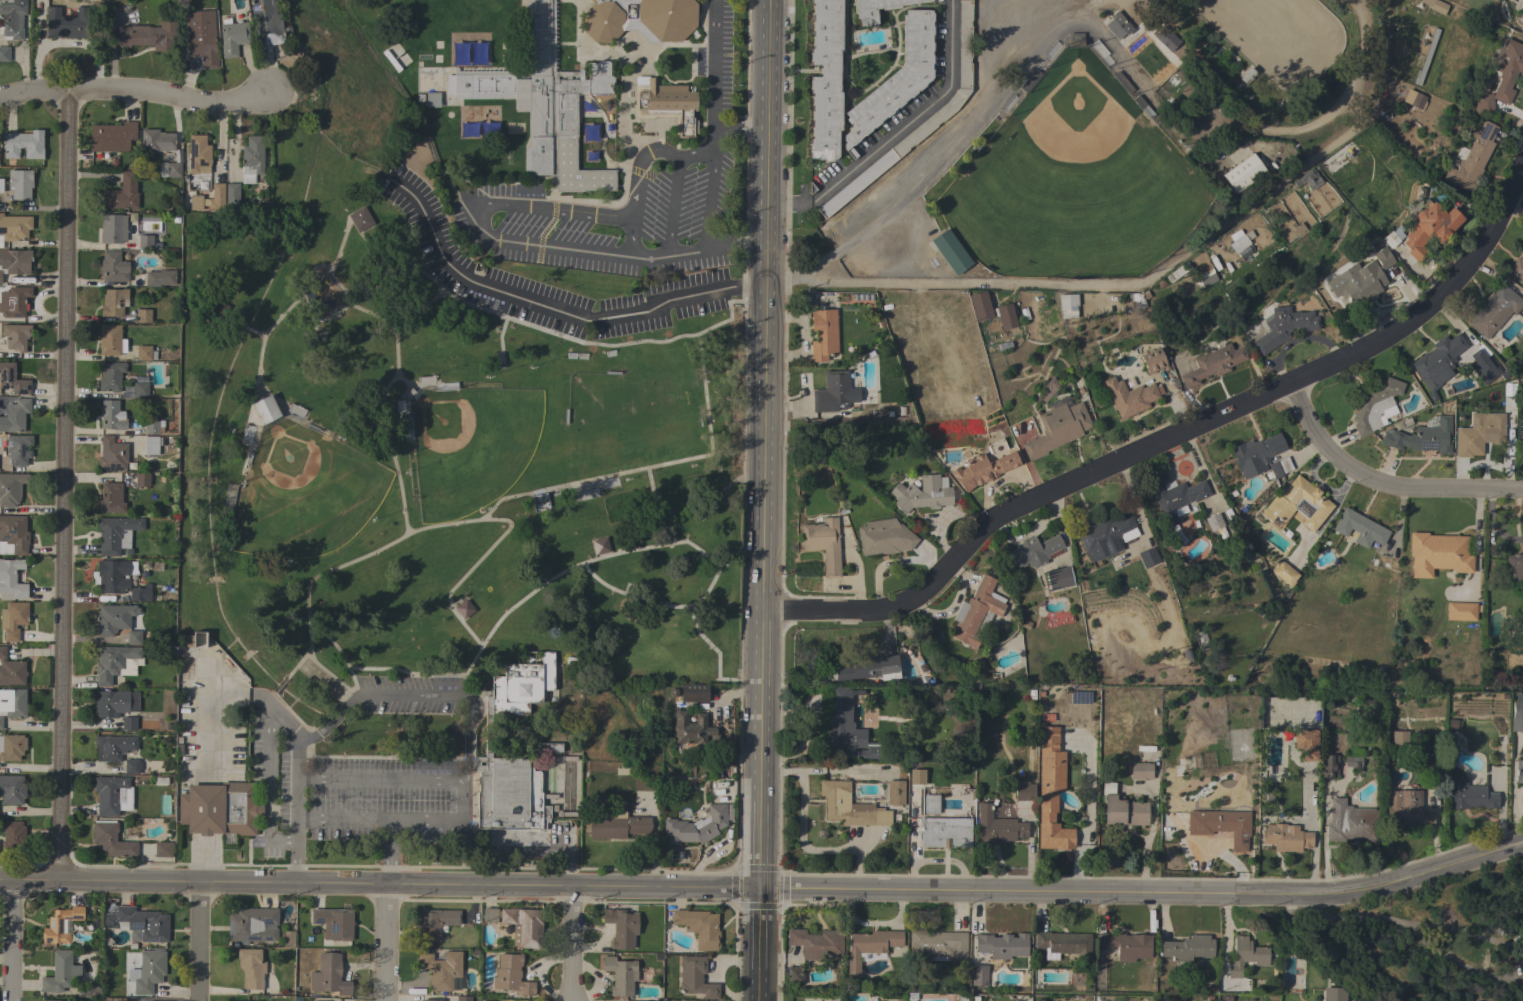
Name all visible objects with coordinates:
building: (1522, 0)
building: (1435, 5)
road: (1076, 13)
building: (866, 14)
building: (12, 19)
building: (639, 19)
building: (1522, 20)
building: (66, 23)
building: (265, 23)
building: (1118, 25)
building: (148, 36)
building: (201, 37)
building: (233, 38)
park: (1278, 38)
building: (1166, 39)
building: (1075, 40)
building: (4, 53)
building: (1425, 59)
road: (714, 63)
building: (1247, 74)
building: (1501, 77)
building: (825, 79)
building: (895, 79)
building: (1030, 80)
building: (1123, 82)
road: (134, 90)
building: (1192, 92)
building: (432, 99)
building: (1416, 100)
building: (545, 103)
building: (665, 104)
building: (949, 107)
road: (1236, 126)
road: (742, 127)
road: (897, 131)
building: (111, 136)
building: (157, 142)
building: (23, 144)
park: (1107, 144)
building: (197, 153)
building: (251, 158)
building: (1470, 159)
road: (939, 163)
building: (1340, 164)
building: (169, 169)
building: (1243, 173)
park: (1071, 176)
building: (1308, 179)
building: (20, 183)
building: (1, 185)
road: (709, 185)
building: (121, 194)
road: (1517, 195)
building: (216, 198)
building: (232, 198)
road: (481, 198)
building: (195, 201)
parking lot: (625, 202)
building: (359, 219)
building: (14, 227)
building: (113, 228)
building: (1429, 228)
building: (1390, 239)
building: (145, 241)
building: (1241, 242)
road: (737, 246)
building: (949, 252)
building: (15, 261)
building: (113, 267)
building: (1517, 268)
building: (1177, 272)
building: (1365, 276)
building: (0, 277)
building: (160, 278)
parking lot: (558, 278)
building: (1205, 278)
road: (429, 282)
road: (1099, 283)
building: (14, 301)
building: (113, 302)
road: (309, 304)
building: (1067, 305)
road: (351, 306)
road: (552, 310)
building: (991, 310)
building: (1494, 310)
building: (142, 316)
road: (727, 320)
building: (1283, 327)
road: (253, 332)
road: (262, 334)
building: (823, 334)
building: (16, 336)
building: (110, 340)
road: (660, 342)
road: (395, 347)
building: (145, 353)
building: (1152, 361)
building: (1438, 361)
building: (1212, 364)
building: (1485, 372)
building: (111, 376)
building: (12, 379)
building: (445, 386)
building: (135, 390)
building: (832, 392)
building: (1130, 396)
road: (396, 399)
building: (1375, 405)
building: (265, 409)
building: (15, 415)
building: (111, 415)
road: (378, 421)
building: (153, 427)
building: (408, 428)
building: (1057, 429)
building: (1484, 430)
building: (1520, 432)
building: (1422, 437)
road: (1170, 438)
park: (470, 444)
building: (151, 445)
building: (18, 449)
building: (111, 454)
building: (1255, 454)
park: (439, 459)
building: (1278, 468)
building: (981, 469)
building: (141, 479)
road: (1382, 482)
road: (63, 484)
building: (11, 488)
park: (304, 493)
building: (922, 493)
building: (583, 495)
building: (111, 498)
building: (1177, 499)
road: (766, 500)
building: (540, 502)
building: (1283, 502)
road: (487, 514)
building: (1215, 525)
road: (1491, 525)
building: (1360, 528)
building: (1103, 532)
building: (116, 534)
building: (13, 535)
building: (884, 537)
building: (822, 543)
building: (600, 545)
road: (655, 547)
road: (1475, 549)
building: (1033, 551)
building: (1438, 554)
building: (1147, 557)
building: (1515, 558)
building: (1284, 573)
road: (466, 574)
building: (111, 576)
building: (1058, 578)
building: (11, 580)
building: (140, 593)
building: (464, 608)
building: (1460, 611)
building: (975, 613)
building: (113, 618)
building: (12, 619)
road: (318, 631)
building: (134, 637)
road: (708, 645)
building: (110, 663)
building: (868, 668)
building: (11, 670)
road: (326, 670)
road: (291, 672)
building: (1381, 673)
building: (693, 693)
building: (1518, 697)
road: (374, 698)
building: (13, 703)
building: (115, 703)
road: (281, 715)
building: (1517, 716)
building: (1, 722)
building: (128, 723)
road: (311, 726)
building: (847, 729)
building: (692, 732)
building: (488, 736)
building: (1399, 737)
building: (1306, 743)
building: (11, 746)
building: (112, 747)
building: (548, 747)
building: (1353, 758)
building: (132, 766)
building: (1329, 766)
parking lot: (375, 769)
road: (269, 770)
road: (466, 771)
building: (1141, 771)
building: (1519, 771)
building: (916, 777)
road: (380, 781)
building: (12, 789)
building: (1024, 792)
building: (1051, 792)
building: (895, 793)
building: (112, 795)
building: (1470, 795)
building: (930, 804)
building: (849, 806)
road: (294, 807)
building: (219, 808)
building: (1122, 809)
building: (1405, 811)
road: (380, 819)
road: (1086, 821)
building: (1351, 823)
building: (1221, 825)
building: (617, 826)
building: (696, 826)
building: (996, 827)
road: (1313, 831)
building: (944, 832)
building: (13, 835)
building: (1286, 837)
building: (112, 840)
road: (282, 840)
building: (163, 849)
road: (389, 852)
road: (533, 852)
road: (765, 889)
building: (489, 915)
building: (333, 923)
building: (434, 923)
building: (139, 924)
building: (60, 925)
building: (252, 925)
building: (524, 926)
building: (621, 927)
building: (699, 927)
road: (1483, 937)
building: (288, 939)
road: (13, 940)
road: (199, 941)
road: (385, 943)
building: (816, 943)
road: (572, 944)
building: (1062, 944)
building: (1001, 945)
building: (1126, 945)
building: (869, 947)
building: (940, 947)
building: (1187, 948)
building: (1246, 956)
building: (251, 967)
building: (442, 970)
building: (149, 971)
building: (60, 972)
building: (328, 975)
building: (511, 975)
building: (620, 975)
building: (794, 975)
building: (979, 975)
building: (695, 977)
building: (90, 991)
building: (1333, 994)
building: (463, 998)
building: (114, 999)
building: (51, 1000)
building: (431, 1000)

